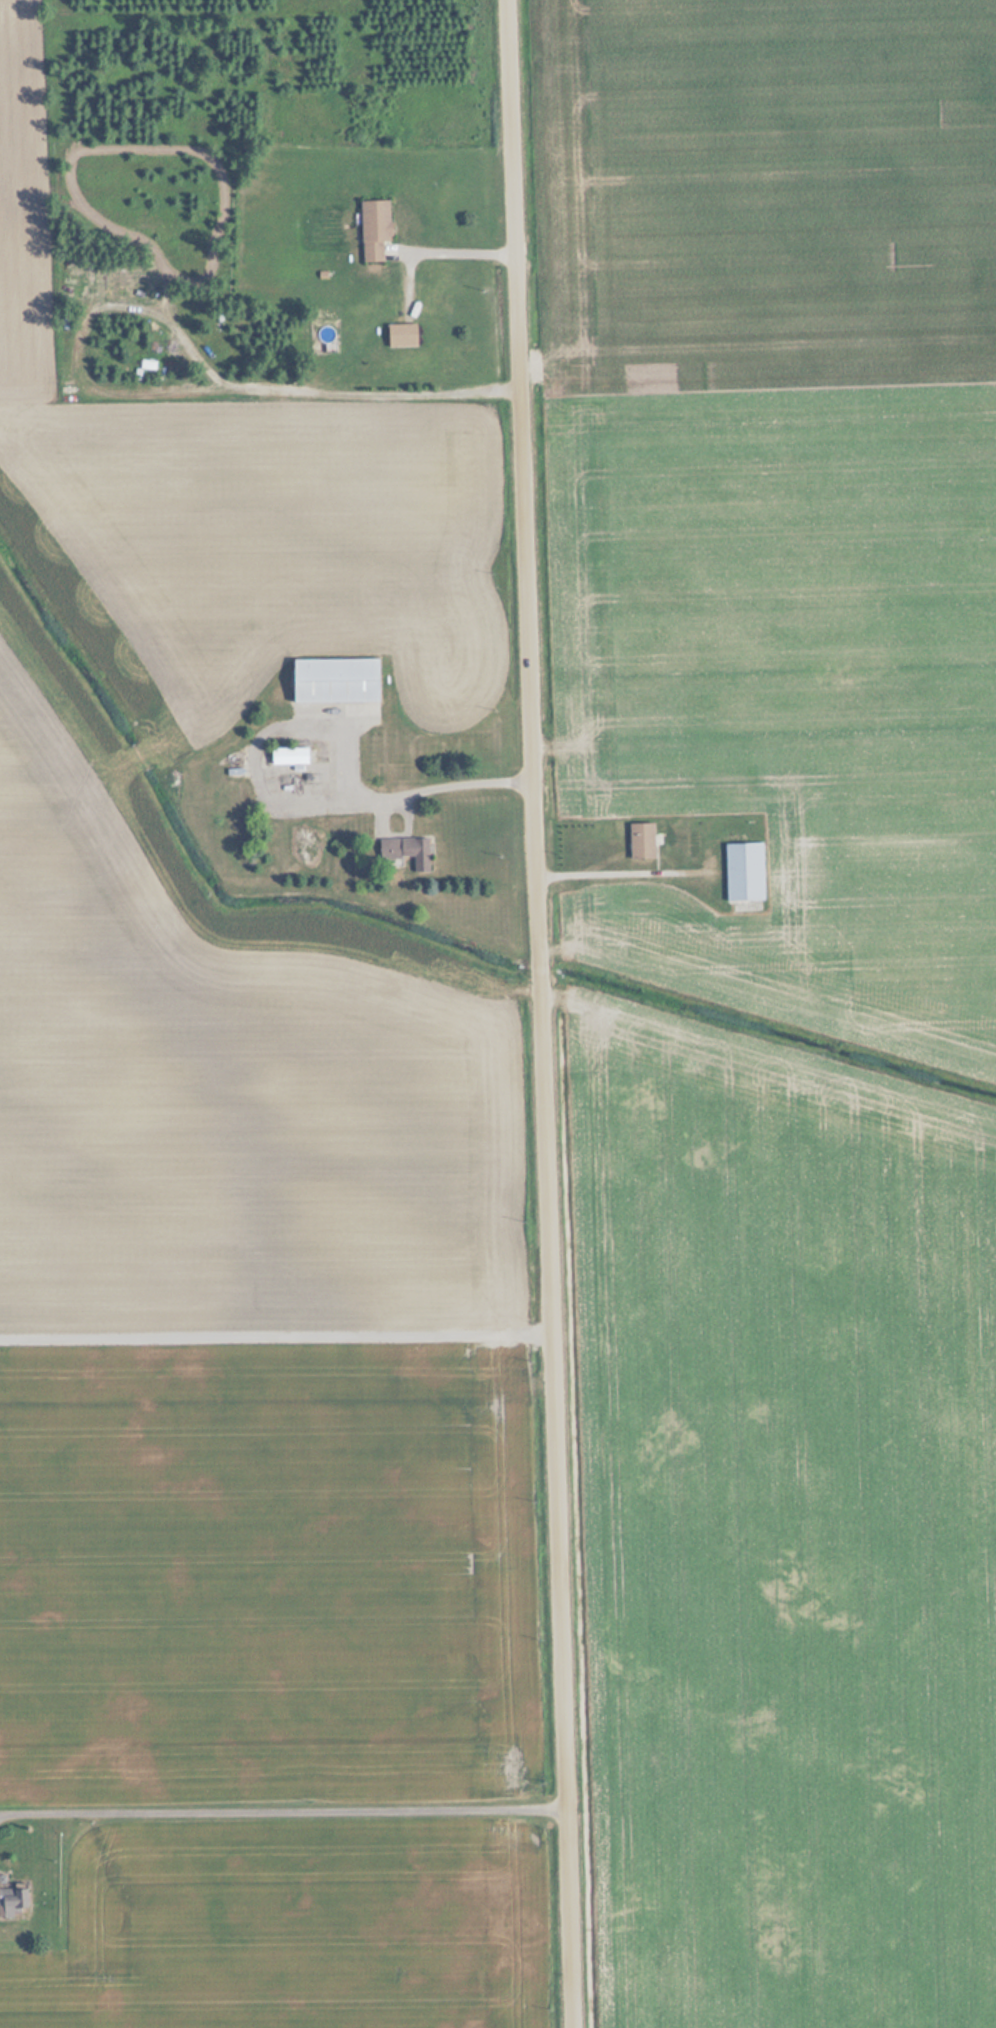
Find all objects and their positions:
building: (375, 229)
building: (402, 336)
building: (336, 680)
building: (289, 756)
building: (642, 841)
building: (410, 851)
building: (743, 868)
road: (542, 1013)
road: (285, 1806)
building: (13, 1901)

